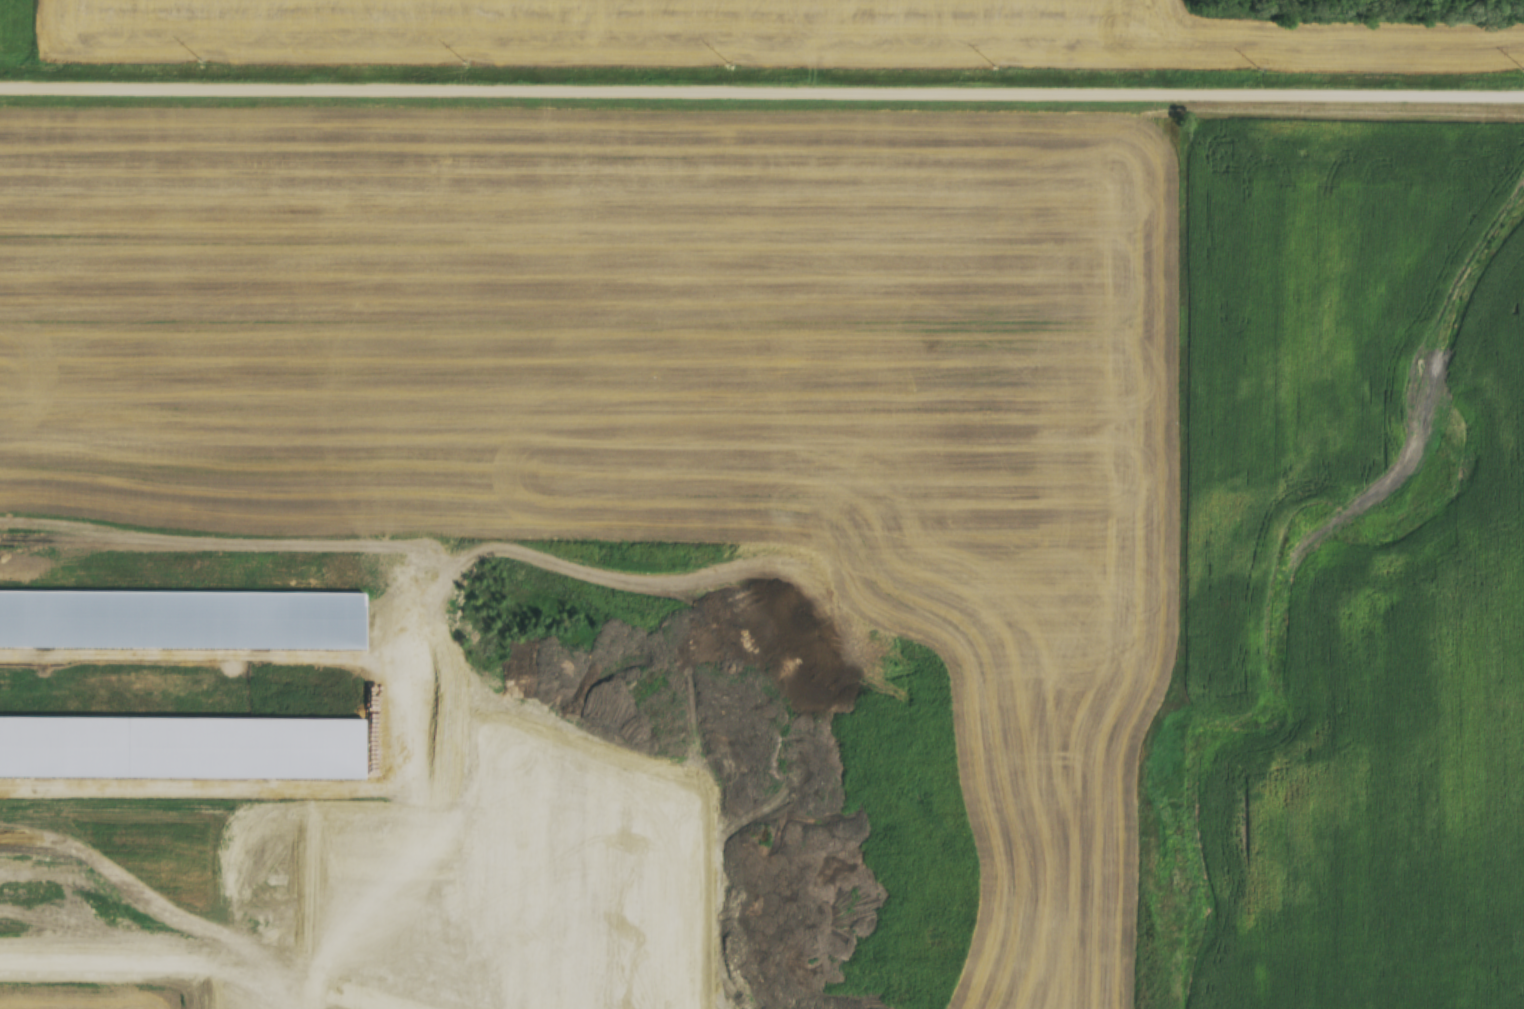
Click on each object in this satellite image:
road: (762, 88)
building: (182, 623)
building: (182, 752)

